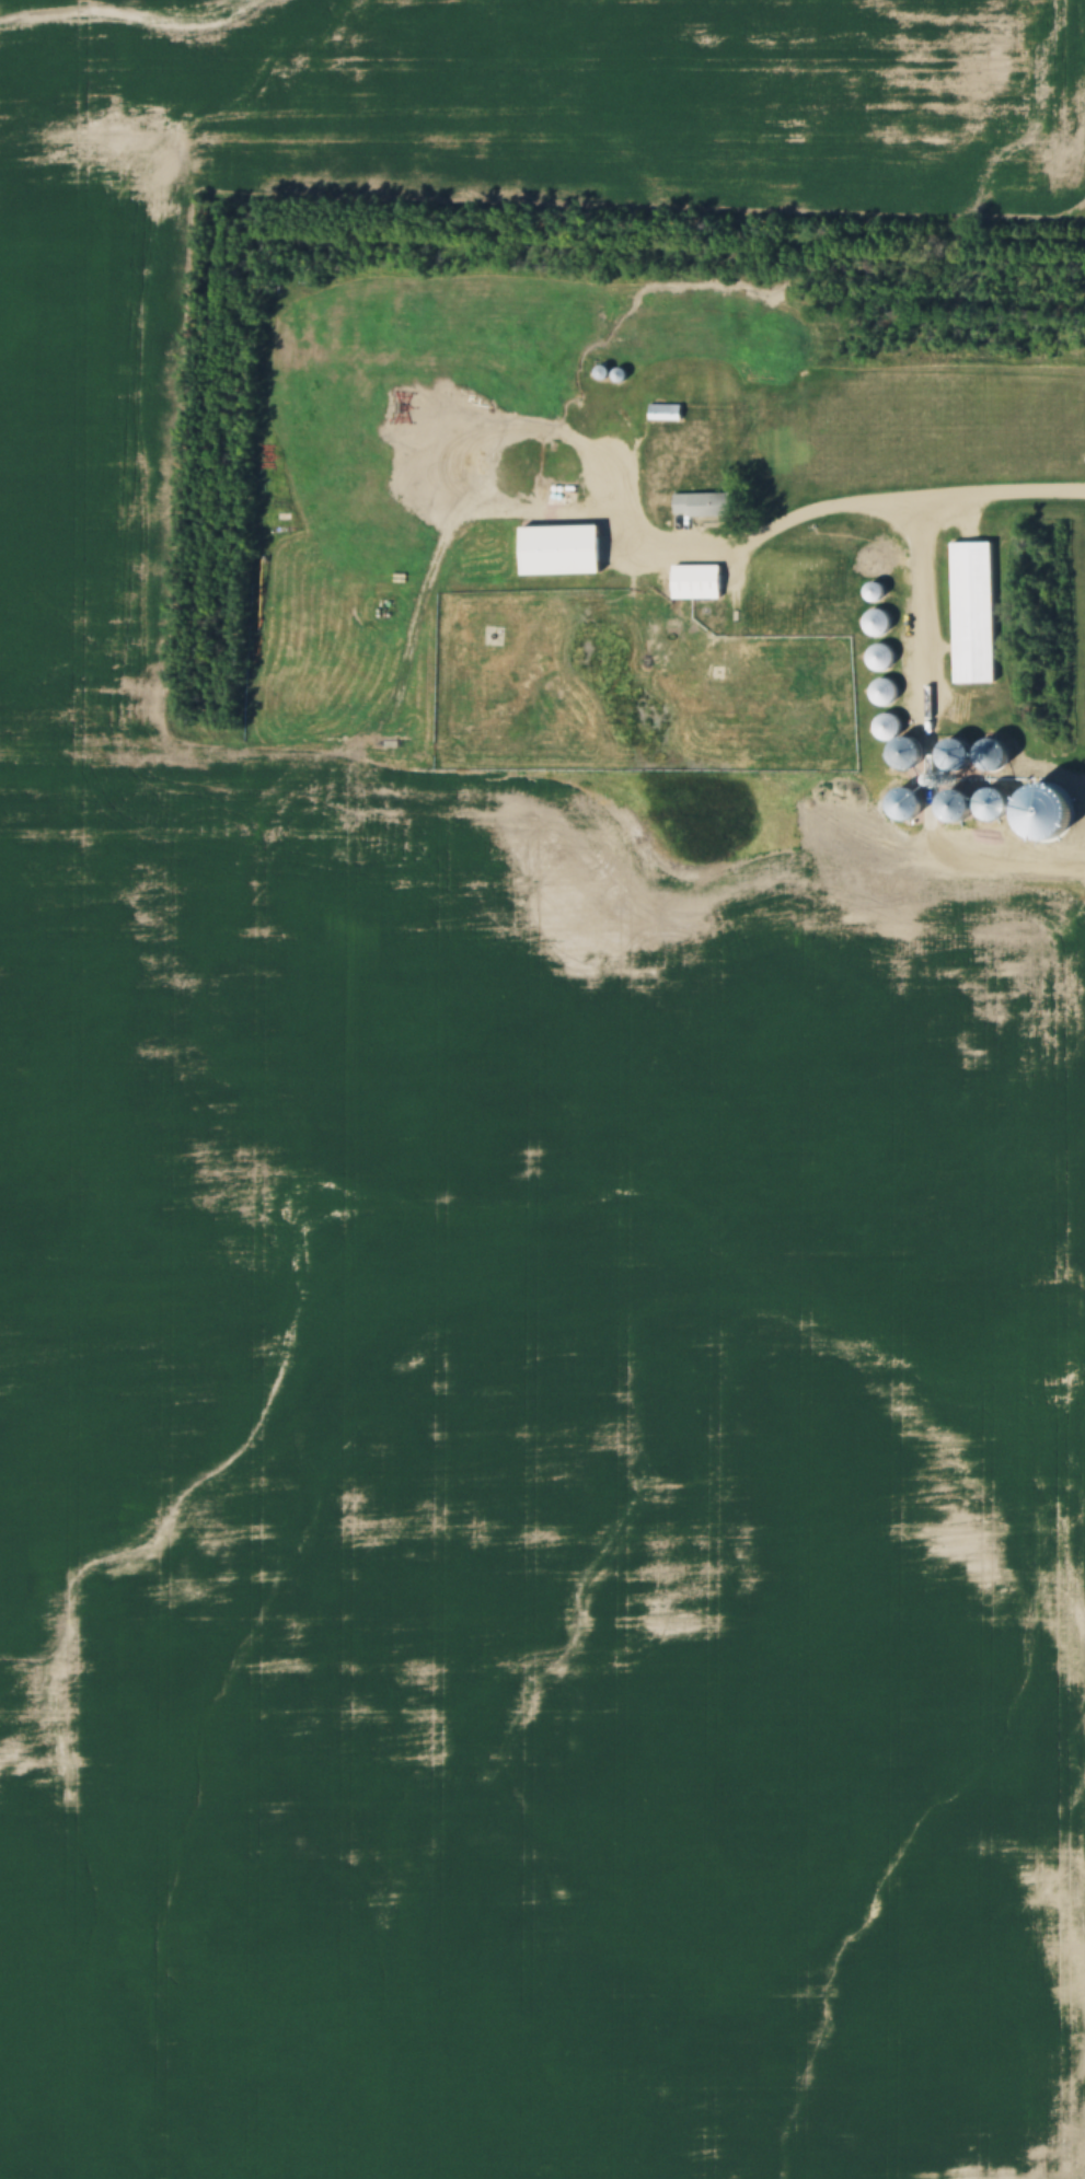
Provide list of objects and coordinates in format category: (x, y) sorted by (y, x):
building: (665, 413)
building: (612, 441)
building: (318, 442)
building: (288, 473)
building: (704, 506)
road: (821, 510)
building: (563, 552)
building: (697, 583)
building: (797, 586)
building: (973, 614)
building: (772, 626)
building: (881, 695)
building: (909, 754)
building: (994, 754)
building: (955, 755)

